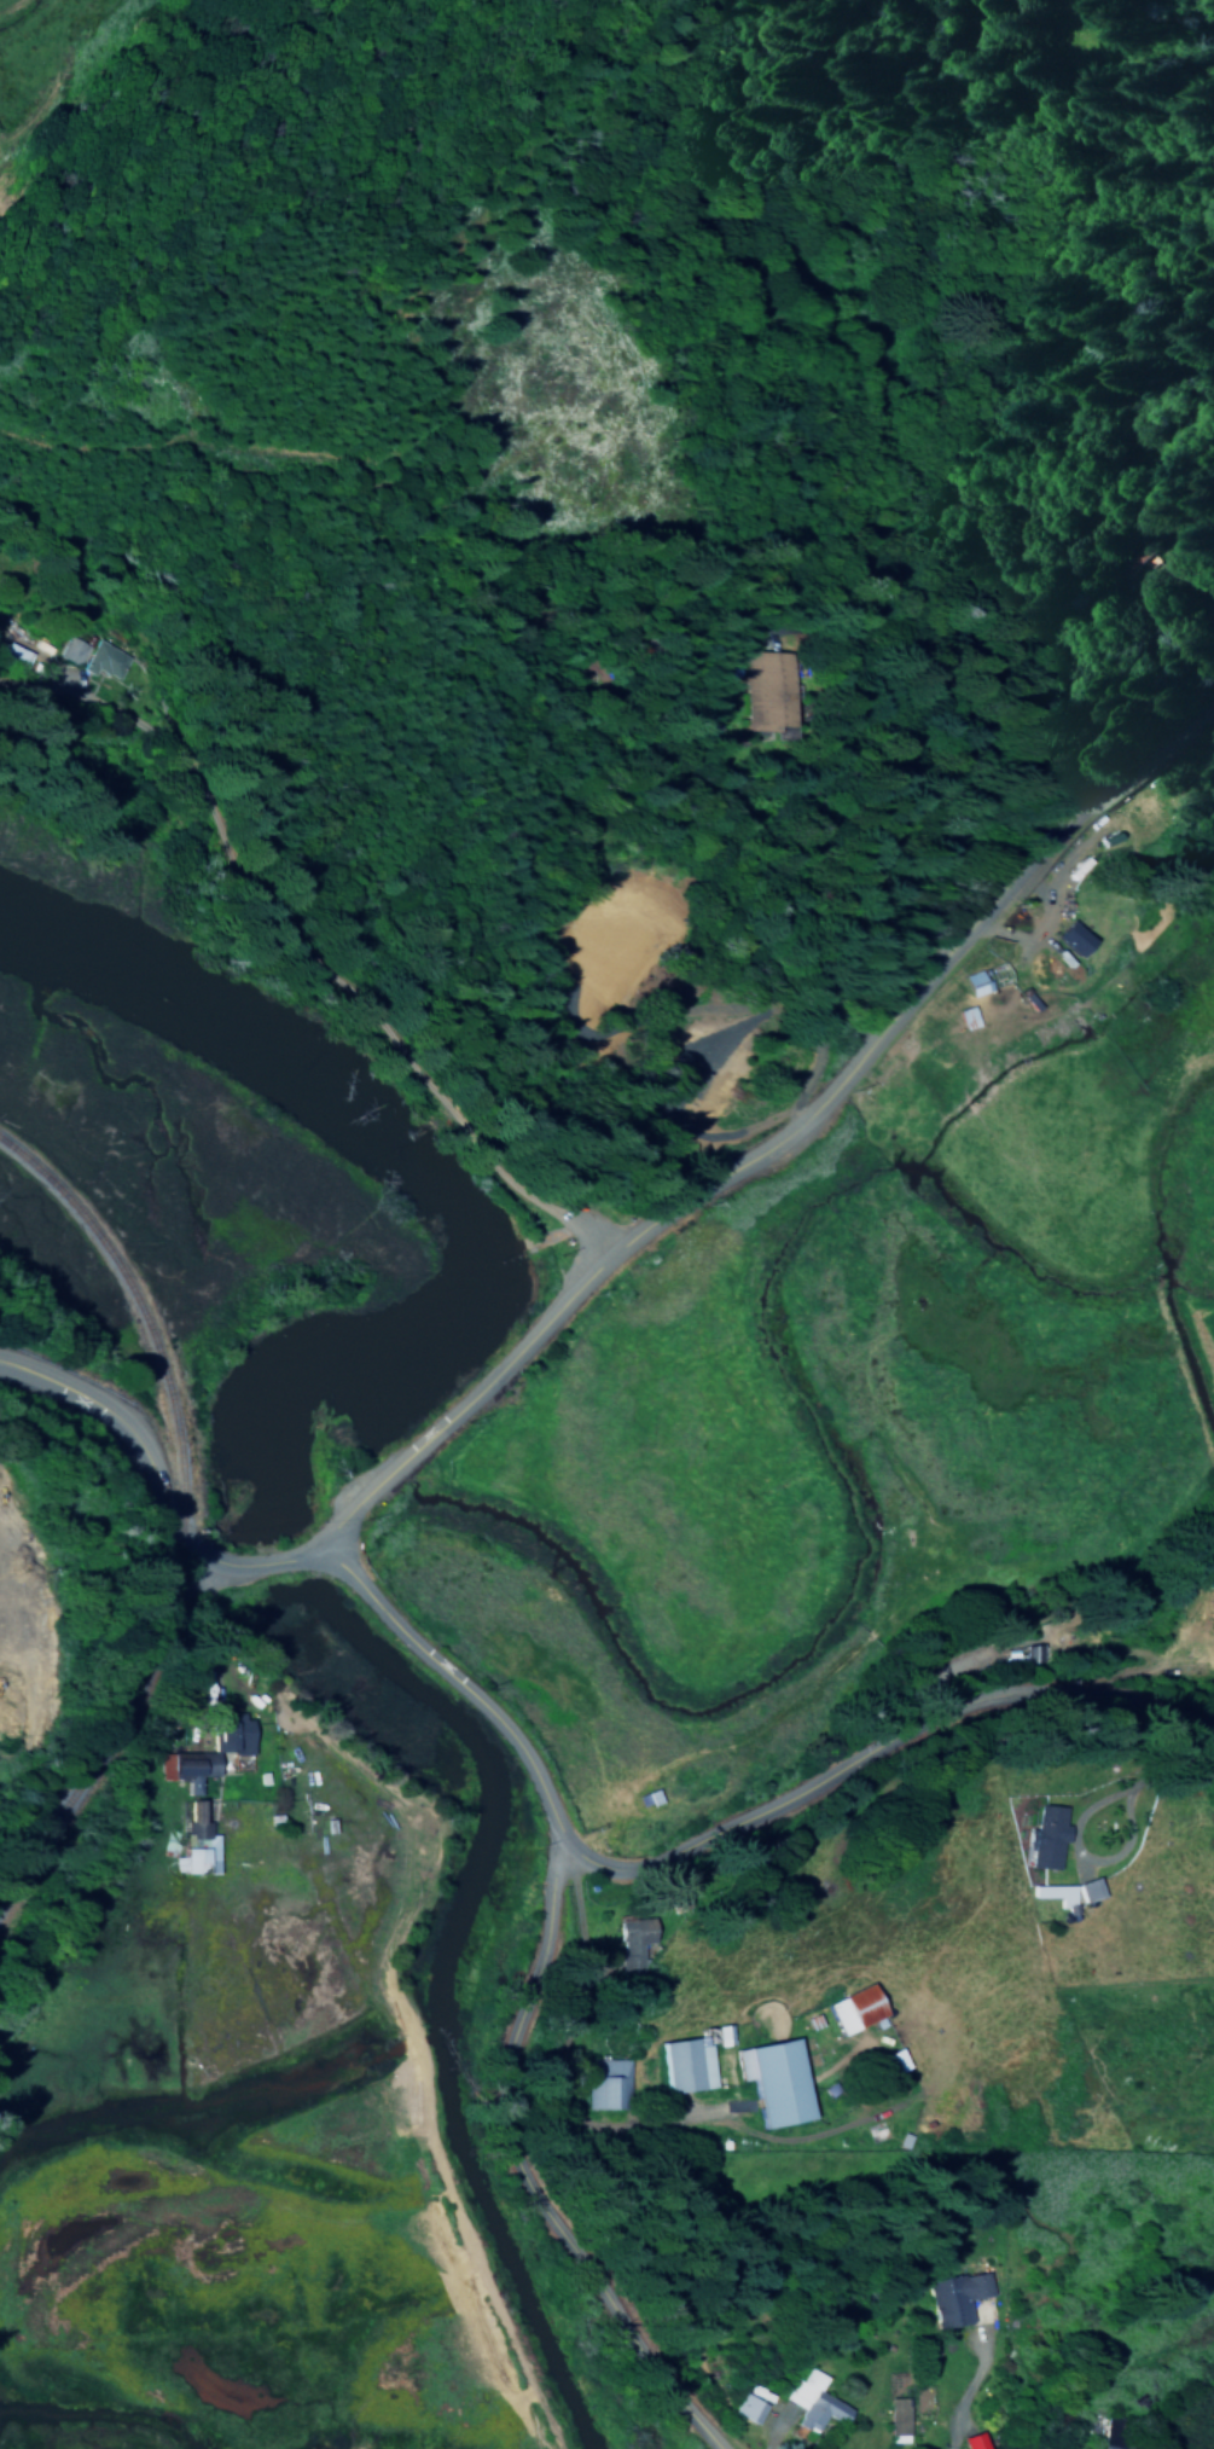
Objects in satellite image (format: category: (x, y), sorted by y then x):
road: (1186, 544)
building: (1115, 564)
road: (911, 627)
building: (70, 651)
building: (12, 656)
building: (104, 662)
building: (772, 691)
building: (1111, 847)
road: (316, 933)
building: (1073, 939)
road: (911, 967)
building: (972, 985)
river: (423, 1178)
road: (467, 1403)
road: (147, 1459)
railway: (180, 1520)
road: (314, 1557)
road: (283, 1562)
road: (5, 1591)
road: (18, 1648)
road: (461, 1690)
building: (231, 1735)
road: (878, 1747)
building: (186, 1771)
road: (1151, 1775)
building: (645, 1800)
building: (197, 1842)
building: (1050, 1842)
building: (1087, 1892)
building: (1053, 1896)
building: (631, 1946)
building: (853, 2012)
building: (721, 2037)
building: (894, 2062)
building: (684, 2067)
building: (773, 2084)
building: (604, 2087)
road: (524, 2175)
building: (953, 2298)
building: (811, 2403)
building: (747, 2409)
building: (971, 2442)

